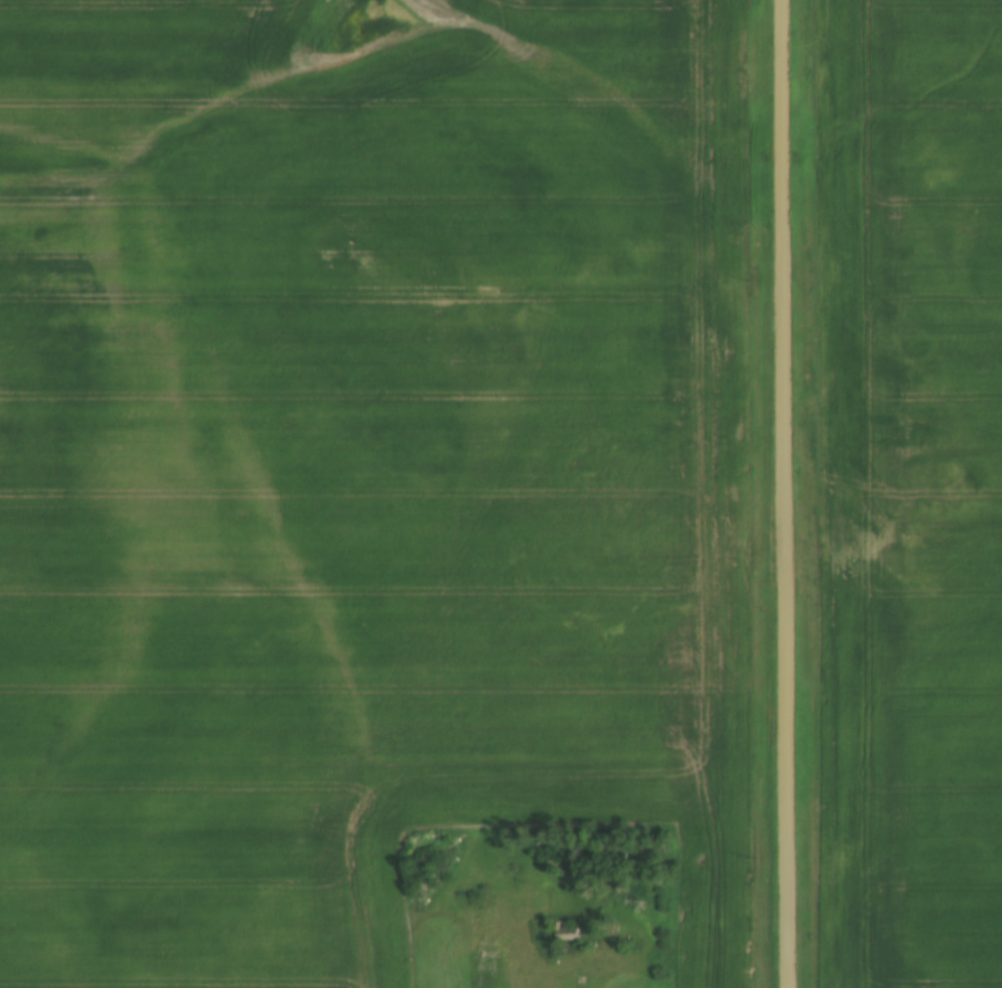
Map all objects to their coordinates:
road: (786, 494)
building: (569, 933)

